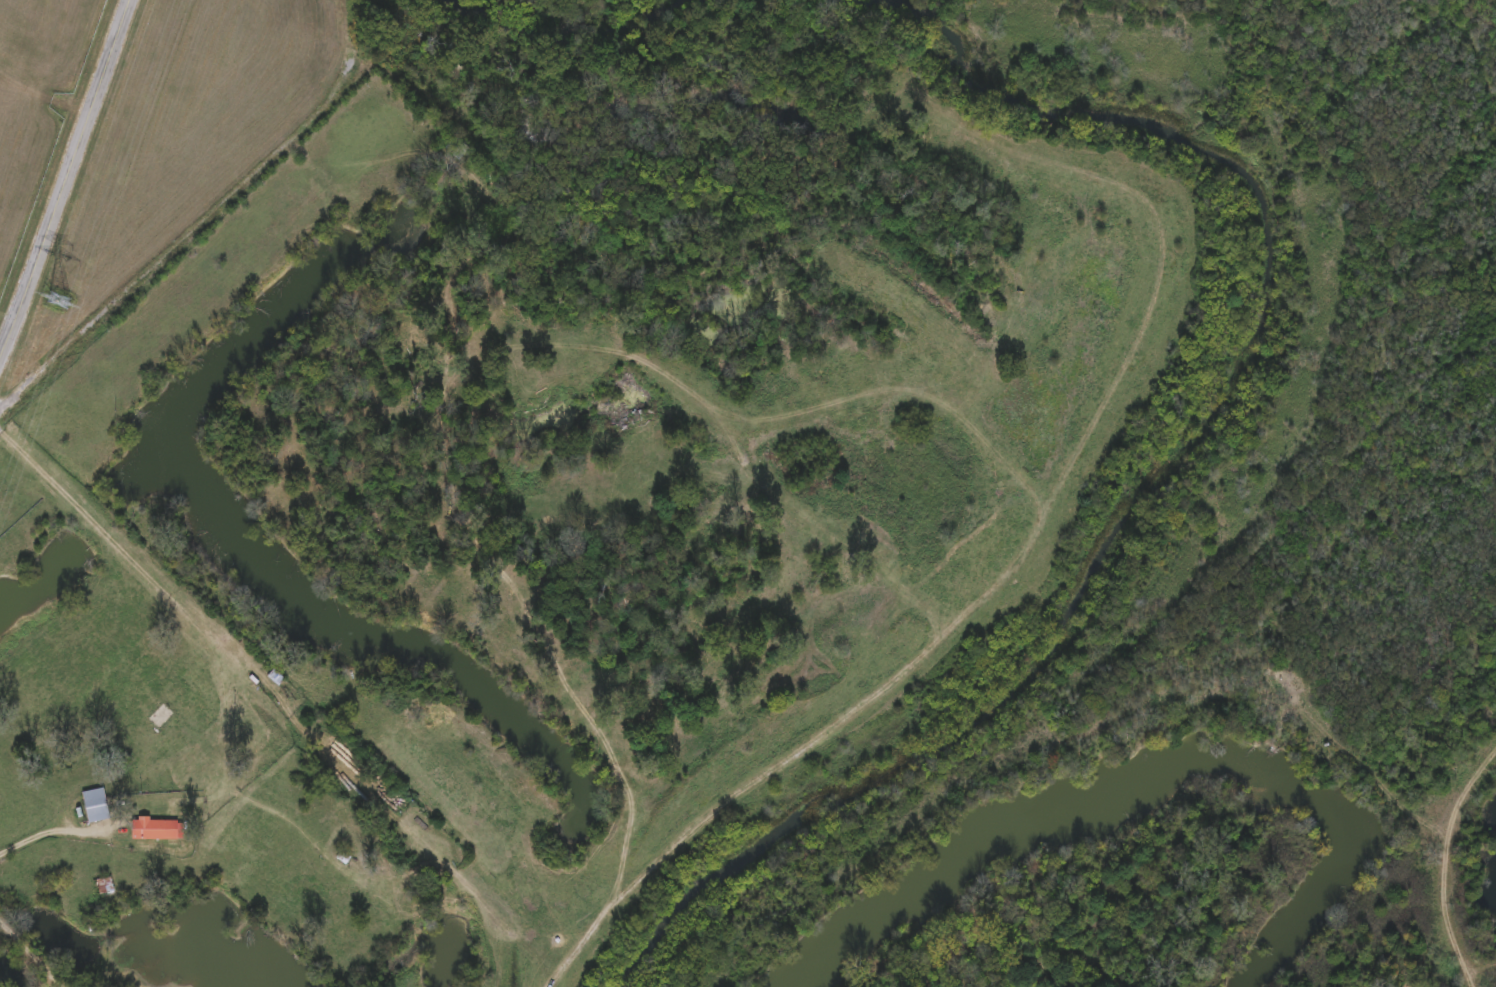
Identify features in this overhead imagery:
building: (455, 146)
road: (66, 191)
road: (191, 239)
power tower: (50, 320)
road: (112, 537)
road: (1023, 559)
road: (226, 725)
building: (92, 802)
building: (153, 825)
road: (52, 835)
road: (1445, 867)
road: (36, 950)

